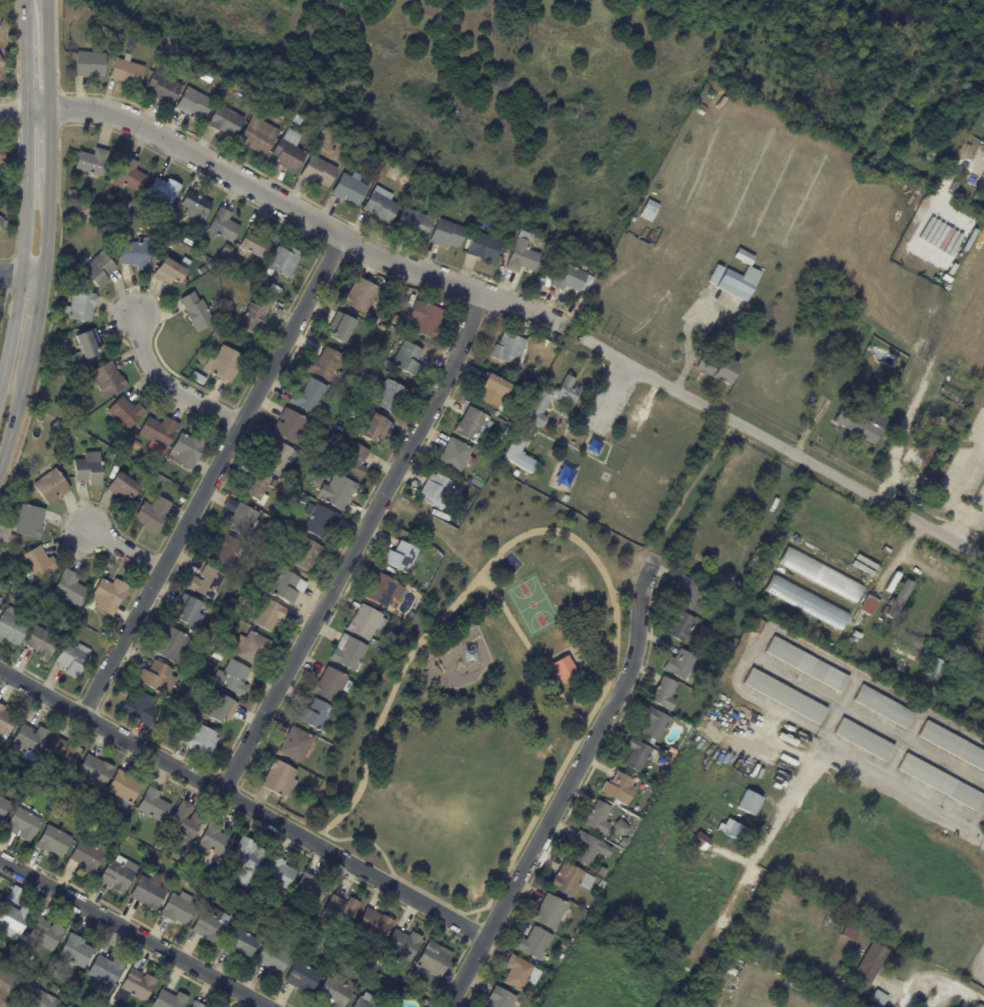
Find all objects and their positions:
building: (104, 33)
building: (120, 33)
road: (56, 44)
road: (25, 54)
road: (48, 54)
building: (1, 62)
building: (88, 64)
building: (126, 72)
building: (216, 83)
building: (162, 88)
building: (193, 103)
road: (13, 109)
building: (225, 121)
building: (257, 135)
building: (0, 139)
road: (49, 145)
building: (289, 151)
building: (355, 151)
building: (367, 157)
building: (1, 158)
building: (90, 162)
building: (317, 172)
building: (128, 176)
road: (982, 184)
building: (954, 187)
building: (349, 188)
building: (8, 189)
building: (163, 191)
building: (71, 194)
building: (125, 204)
building: (380, 205)
building: (194, 206)
road: (292, 209)
building: (649, 211)
building: (1, 221)
building: (413, 223)
building: (222, 226)
building: (169, 229)
road: (46, 231)
building: (446, 233)
building: (186, 240)
building: (254, 242)
road: (22, 246)
building: (483, 247)
building: (225, 249)
building: (134, 255)
building: (744, 257)
building: (521, 260)
building: (283, 261)
building: (253, 264)
building: (549, 264)
building: (206, 268)
building: (98, 270)
building: (167, 271)
building: (716, 275)
road: (20, 277)
building: (568, 277)
building: (738, 282)
building: (360, 295)
building: (79, 306)
building: (195, 311)
building: (254, 315)
building: (424, 319)
building: (394, 320)
road: (577, 321)
road: (35, 323)
building: (340, 327)
building: (382, 327)
building: (85, 344)
building: (214, 345)
building: (511, 350)
building: (376, 358)
building: (407, 360)
building: (90, 361)
building: (224, 364)
building: (325, 364)
building: (368, 366)
building: (716, 368)
building: (354, 376)
building: (198, 378)
building: (107, 380)
road: (168, 384)
building: (492, 392)
building: (950, 395)
building: (389, 396)
building: (309, 397)
building: (342, 397)
building: (345, 410)
building: (895, 411)
building: (124, 413)
building: (494, 413)
road: (15, 414)
building: (537, 421)
building: (939, 421)
building: (288, 425)
building: (472, 425)
building: (861, 425)
building: (56, 426)
building: (339, 426)
building: (374, 429)
building: (157, 434)
building: (136, 445)
road: (785, 446)
building: (186, 450)
building: (922, 450)
building: (349, 456)
building: (456, 456)
building: (276, 457)
building: (88, 469)
building: (114, 469)
building: (159, 470)
building: (515, 473)
road: (211, 475)
road: (963, 475)
building: (50, 487)
building: (122, 488)
building: (256, 489)
building: (336, 492)
building: (435, 492)
building: (305, 500)
building: (461, 509)
building: (152, 514)
road: (971, 516)
building: (319, 520)
building: (28, 521)
building: (240, 521)
road: (953, 527)
road: (355, 545)
road: (122, 549)
building: (223, 550)
building: (305, 554)
building: (400, 558)
building: (748, 563)
building: (36, 564)
road: (598, 564)
building: (819, 574)
building: (245, 577)
building: (1, 581)
building: (205, 584)
park: (576, 585)
building: (284, 586)
building: (904, 589)
building: (68, 590)
building: (383, 591)
building: (688, 591)
building: (108, 595)
building: (420, 596)
building: (14, 597)
building: (0, 599)
building: (233, 601)
building: (243, 601)
building: (804, 602)
park: (532, 603)
building: (869, 604)
building: (389, 612)
building: (891, 613)
building: (186, 614)
building: (269, 615)
building: (81, 619)
building: (365, 623)
building: (680, 623)
building: (758, 625)
building: (11, 629)
building: (207, 636)
building: (731, 641)
building: (40, 643)
building: (372, 643)
building: (170, 646)
building: (388, 647)
building: (252, 648)
building: (348, 653)
building: (217, 656)
building: (71, 659)
building: (935, 661)
building: (680, 664)
building: (808, 665)
building: (190, 669)
building: (564, 671)
building: (233, 679)
building: (157, 680)
building: (329, 685)
building: (664, 693)
park: (480, 695)
building: (785, 696)
building: (175, 702)
building: (883, 707)
building: (139, 709)
building: (221, 710)
building: (314, 717)
road: (578, 717)
building: (5, 721)
building: (654, 723)
building: (172, 732)
building: (29, 739)
building: (864, 740)
building: (199, 742)
building: (297, 745)
building: (953, 745)
building: (672, 750)
building: (61, 753)
building: (637, 754)
building: (3, 757)
building: (93, 771)
building: (279, 780)
building: (941, 782)
building: (124, 786)
road: (565, 786)
building: (619, 788)
building: (24, 791)
road: (357, 796)
road: (907, 796)
building: (102, 801)
building: (750, 802)
road: (242, 803)
building: (82, 804)
building: (153, 804)
building: (3, 806)
building: (59, 809)
building: (598, 817)
building: (22, 824)
building: (183, 824)
building: (620, 828)
building: (734, 830)
building: (132, 832)
building: (125, 838)
building: (215, 839)
building: (53, 841)
building: (623, 841)
building: (158, 844)
building: (588, 848)
building: (701, 852)
building: (86, 857)
building: (246, 860)
building: (215, 870)
building: (224, 871)
building: (118, 873)
building: (205, 873)
building: (279, 873)
building: (221, 879)
building: (570, 879)
building: (205, 885)
building: (310, 890)
building: (149, 893)
building: (14, 894)
building: (797, 895)
building: (178, 908)
building: (340, 910)
building: (549, 911)
building: (12, 920)
building: (849, 920)
building: (210, 924)
building: (372, 925)
building: (45, 933)
road: (133, 933)
building: (850, 933)
building: (318, 934)
building: (240, 943)
building: (534, 943)
building: (336, 944)
building: (402, 944)
building: (564, 944)
building: (75, 951)
building: (500, 956)
building: (273, 959)
building: (337, 959)
building: (432, 960)
building: (871, 963)
building: (106, 969)
building: (816, 969)
building: (519, 973)
building: (302, 976)
road: (936, 982)
building: (135, 985)
building: (8, 986)
building: (333, 992)
building: (528, 995)
building: (499, 998)
building: (879, 998)
building: (38, 999)
building: (168, 1000)
building: (366, 1001)
building: (112, 1003)
building: (196, 1004)
building: (981, 1005)
building: (68, 1006)

